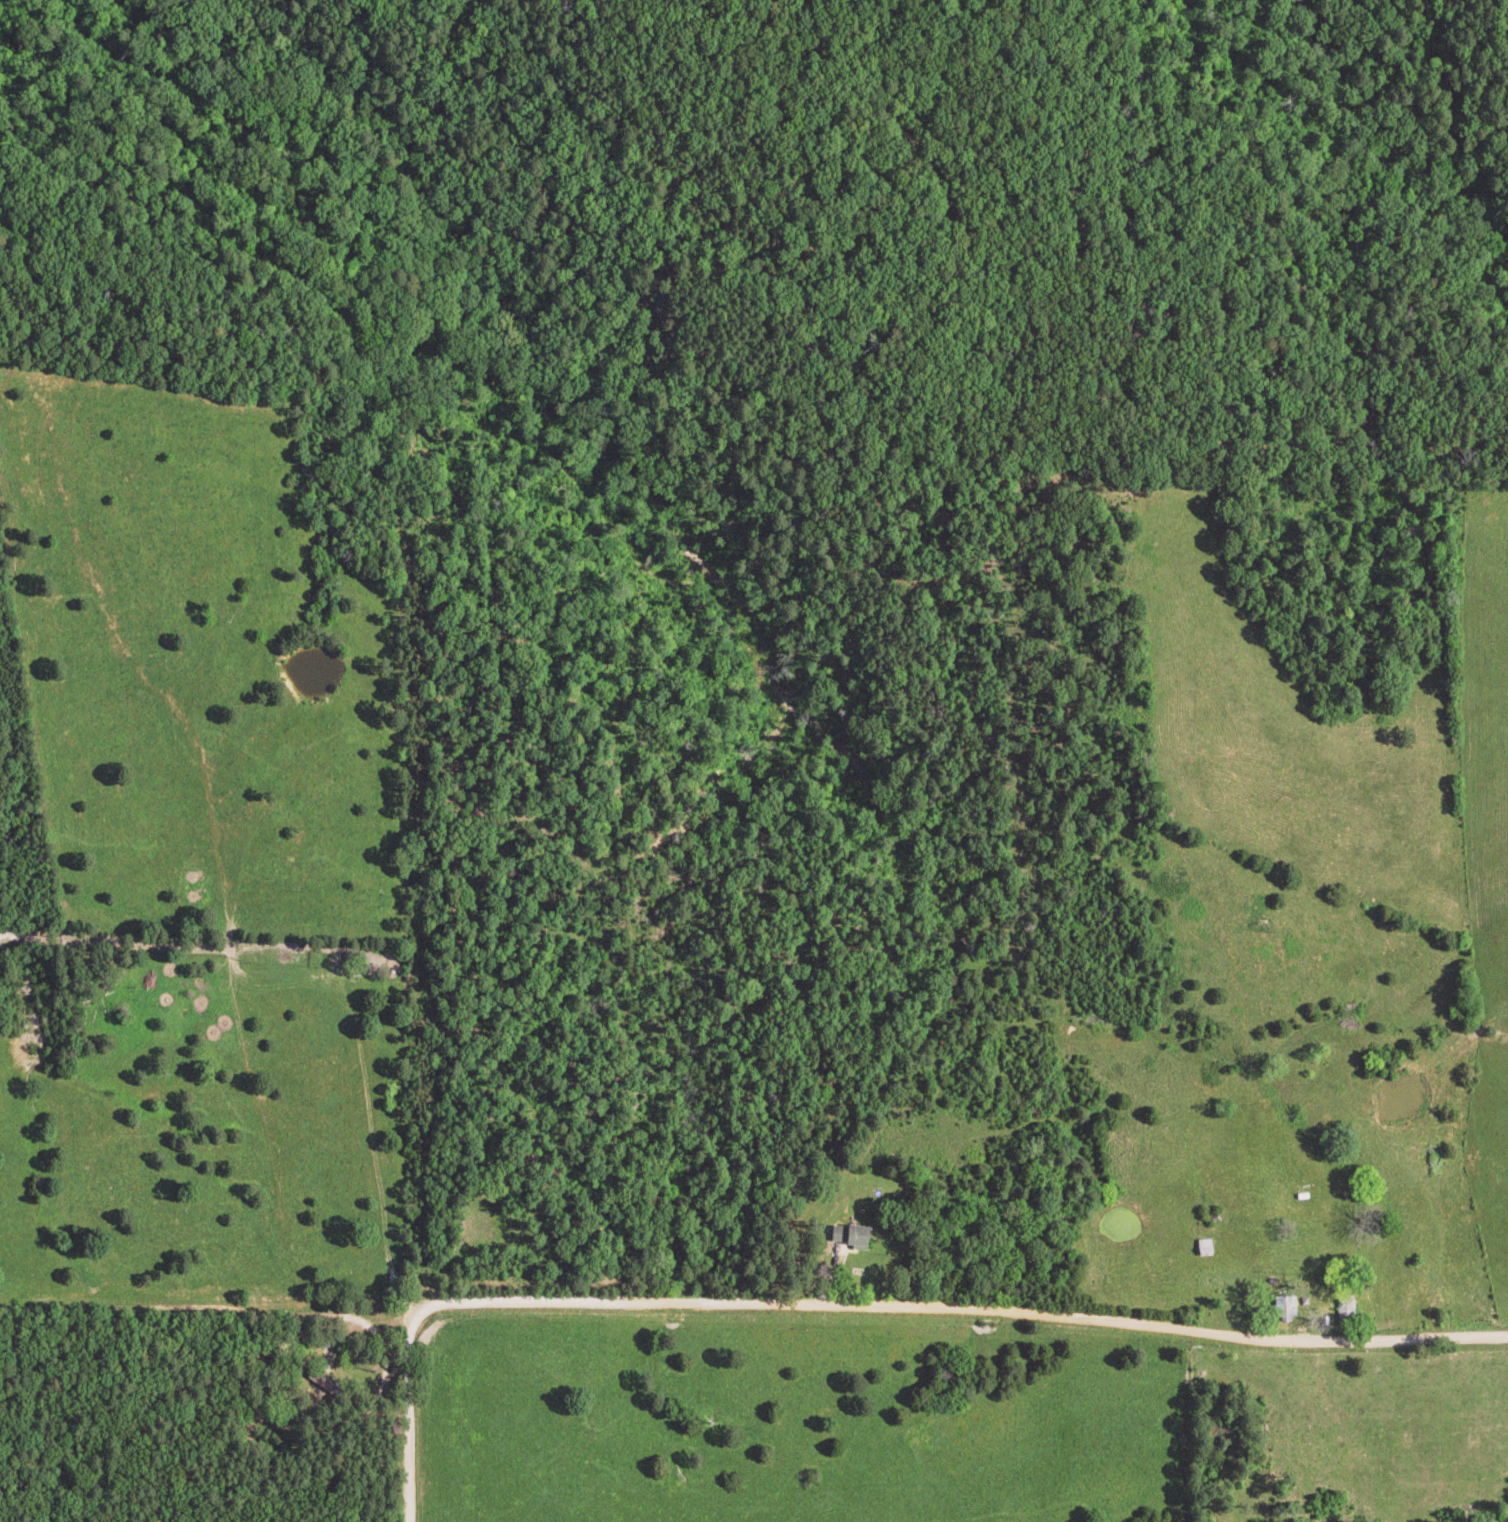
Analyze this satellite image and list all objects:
road: (1437, 1247)
road: (1274, 1250)
road: (862, 1276)
road: (206, 1303)
road: (852, 1304)

